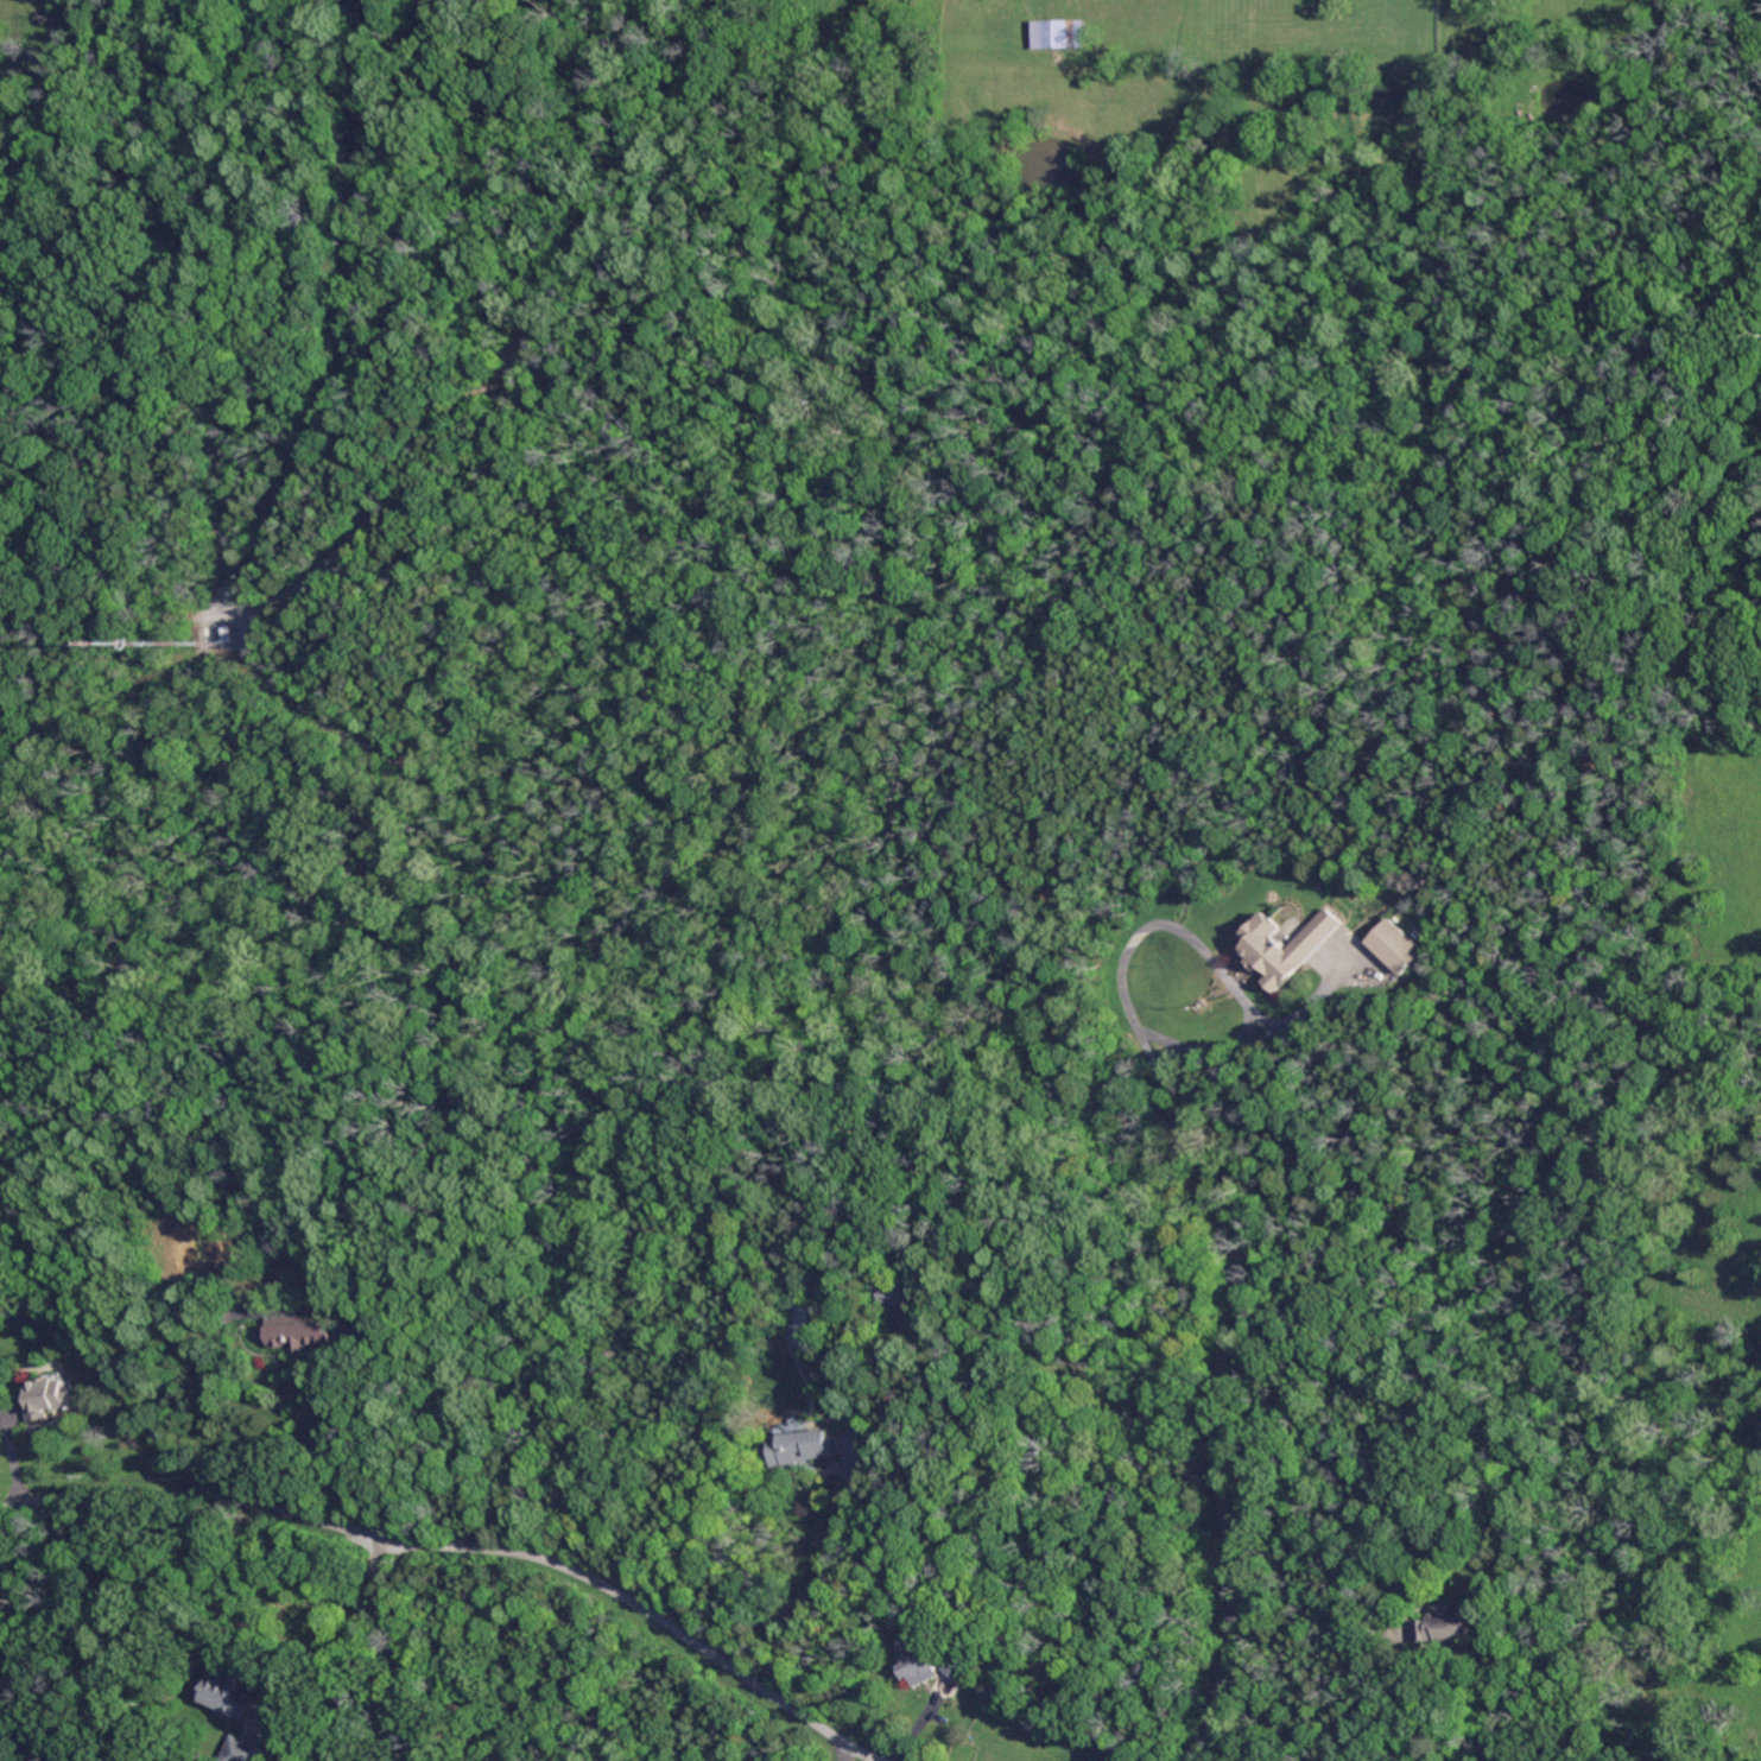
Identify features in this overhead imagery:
building: (1059, 34)
building: (204, 635)
building: (1282, 944)
building: (1393, 945)
road: (1215, 962)
building: (891, 1290)
building: (790, 1298)
building: (379, 1332)
building: (298, 1334)
road: (1218, 1383)
building: (43, 1399)
road: (350, 1442)
building: (800, 1449)
road: (465, 1546)
road: (835, 1551)
building: (1445, 1627)
road: (321, 1628)
building: (916, 1664)
building: (959, 1665)
road: (1411, 1689)
building: (227, 1696)
building: (246, 1749)
road: (844, 1752)
building: (1082, 1759)

